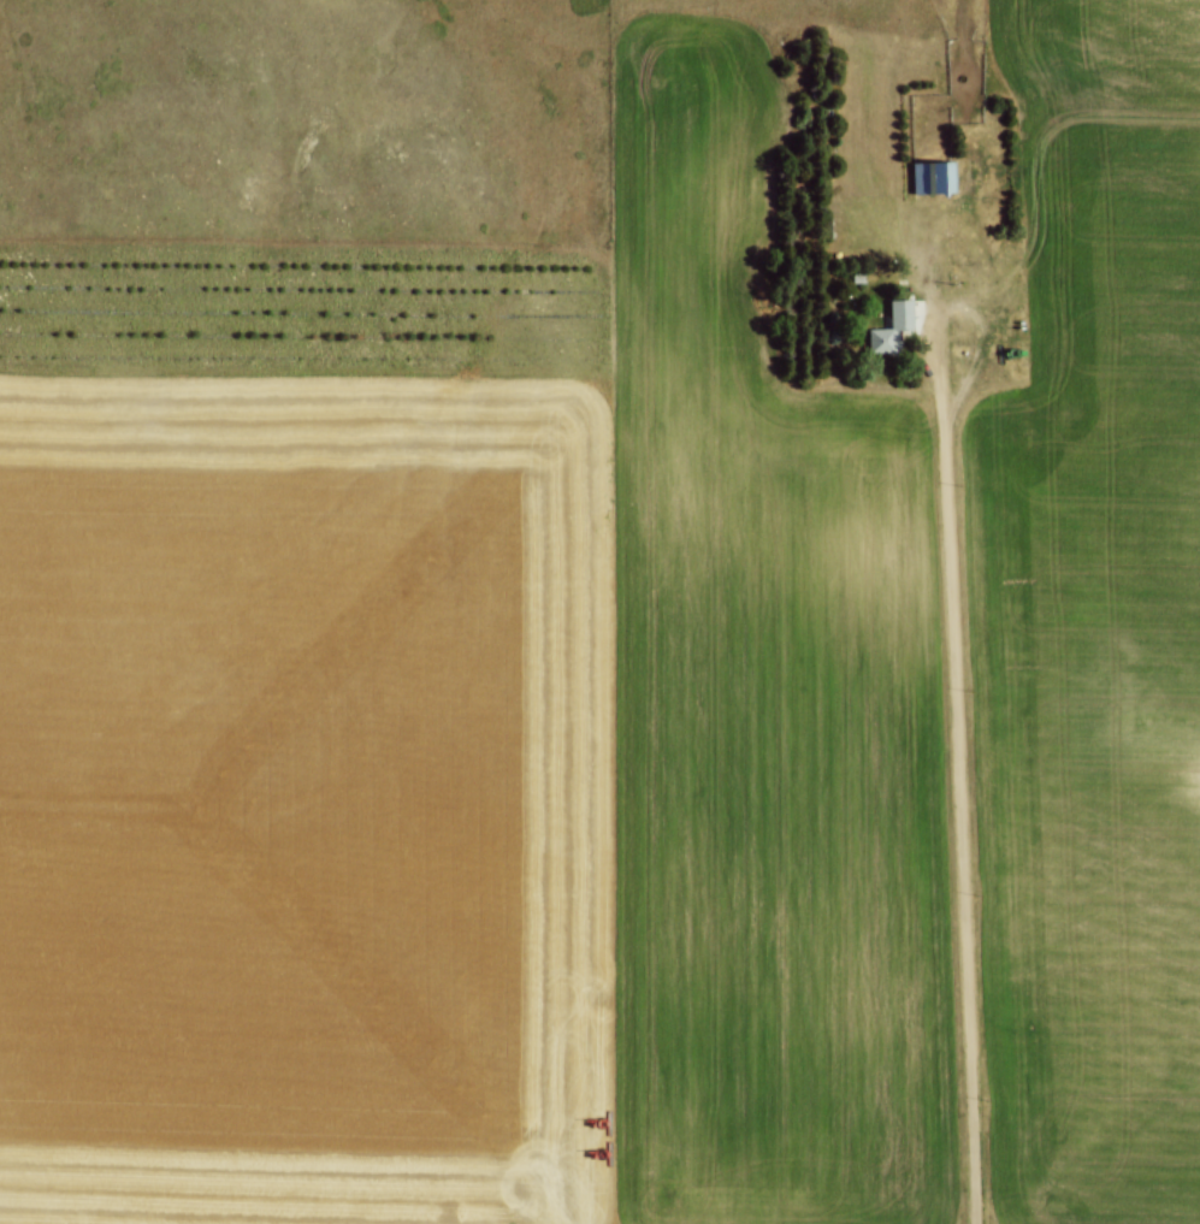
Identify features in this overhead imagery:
building: (929, 177)
building: (882, 333)
crop: (1094, 625)
road: (957, 719)
crop: (486, 758)

